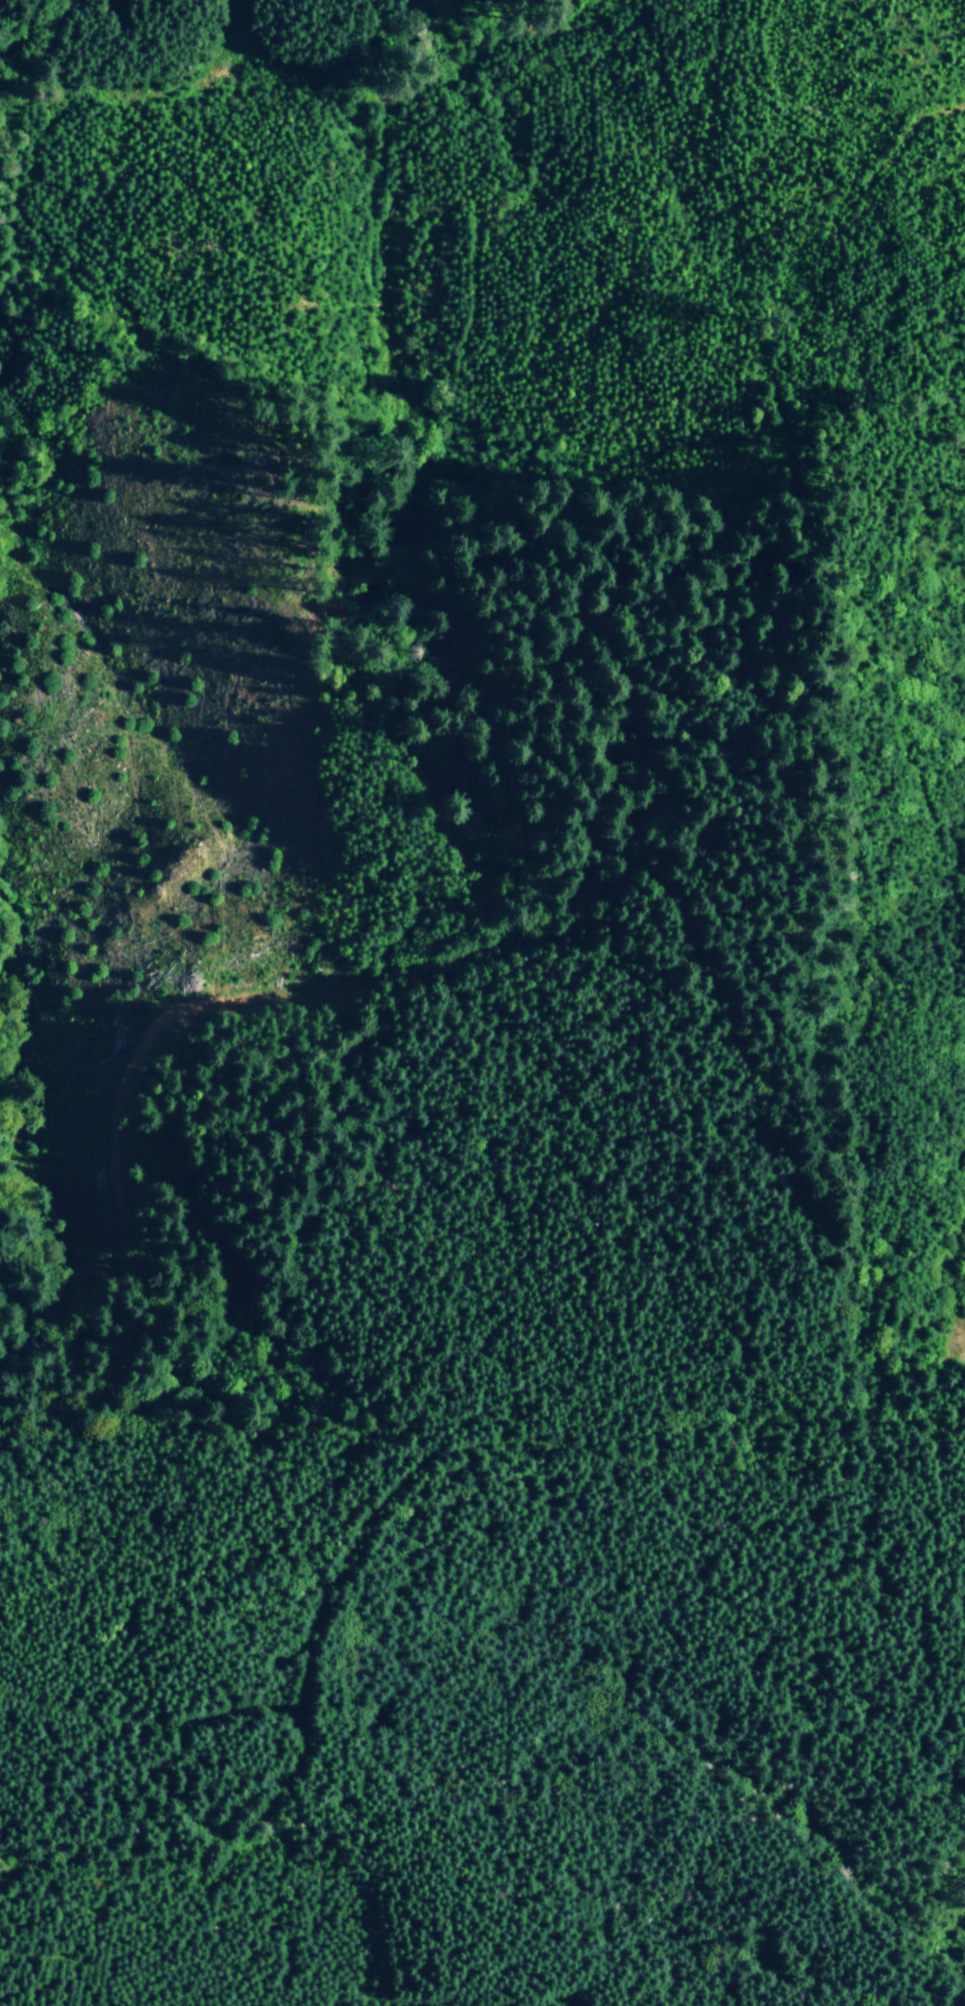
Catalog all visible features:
road: (255, 983)

